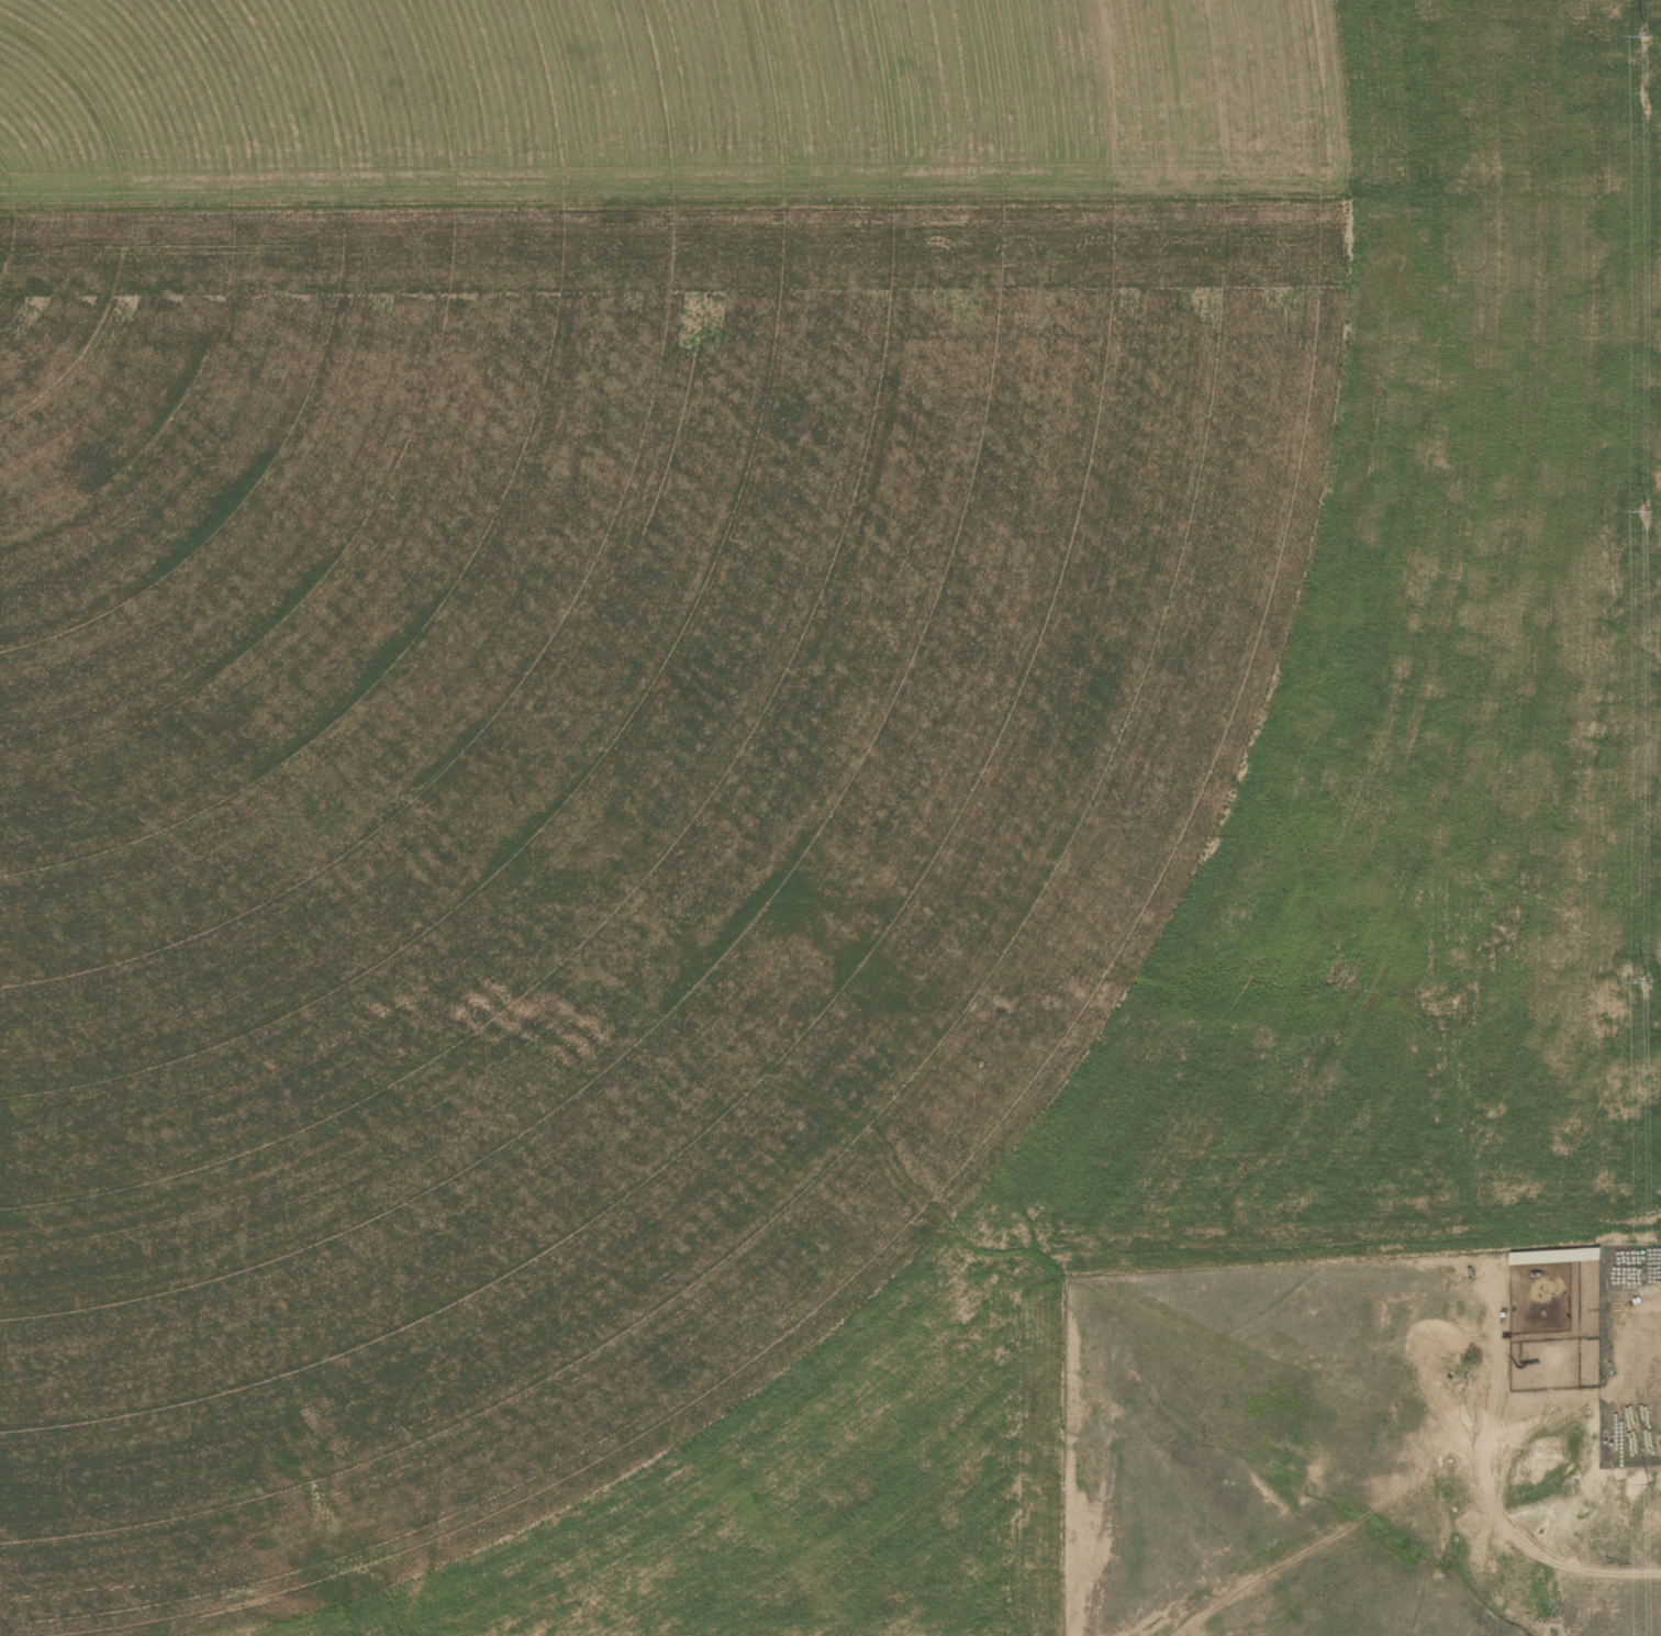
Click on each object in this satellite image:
power tower: (1645, 35)
power tower: (1646, 513)
power tower: (1643, 982)
power tower: (1647, 1483)

